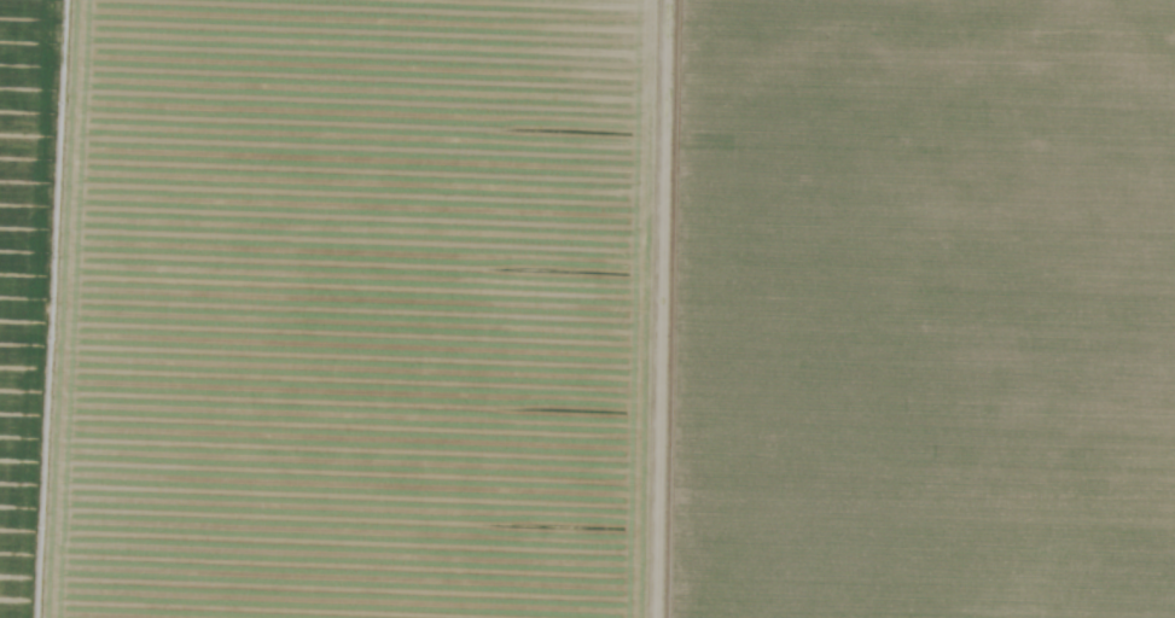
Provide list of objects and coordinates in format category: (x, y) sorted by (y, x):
crop: (587, 309)
road: (661, 309)

